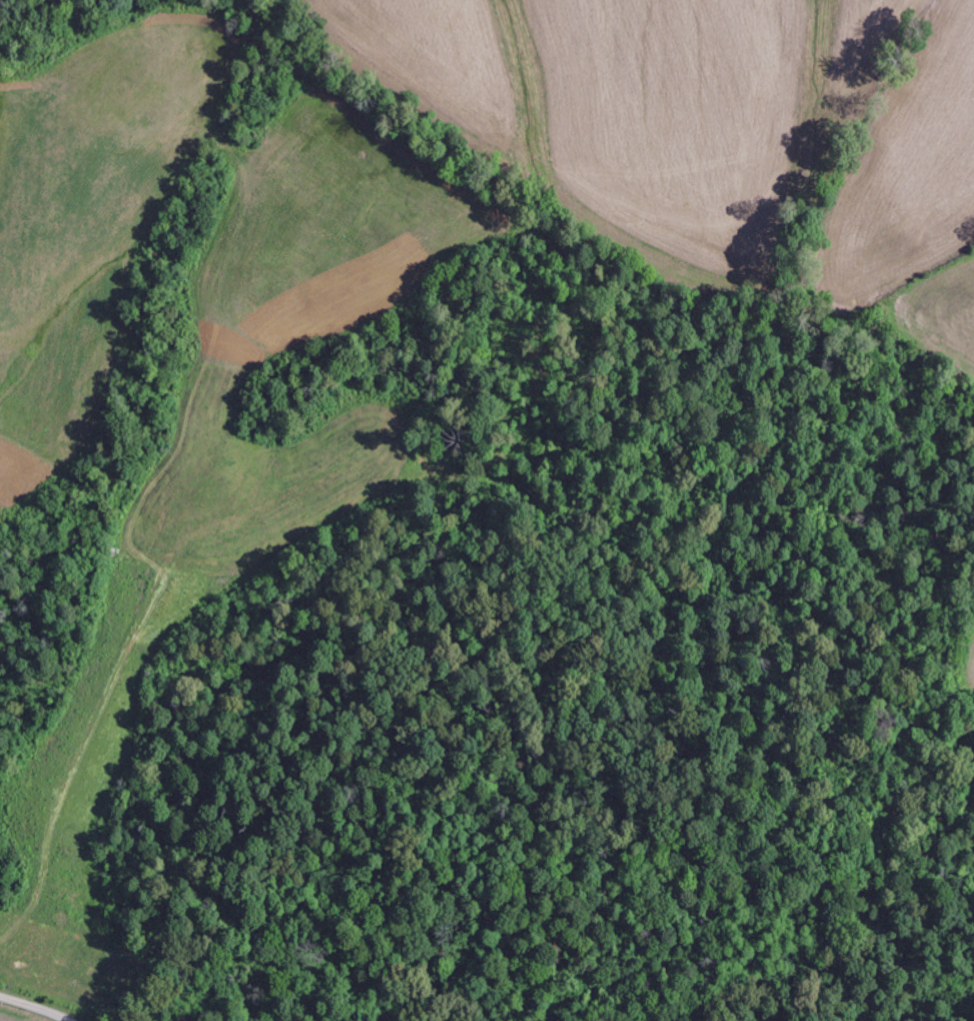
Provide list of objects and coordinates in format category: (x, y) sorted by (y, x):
road: (35, 1004)

